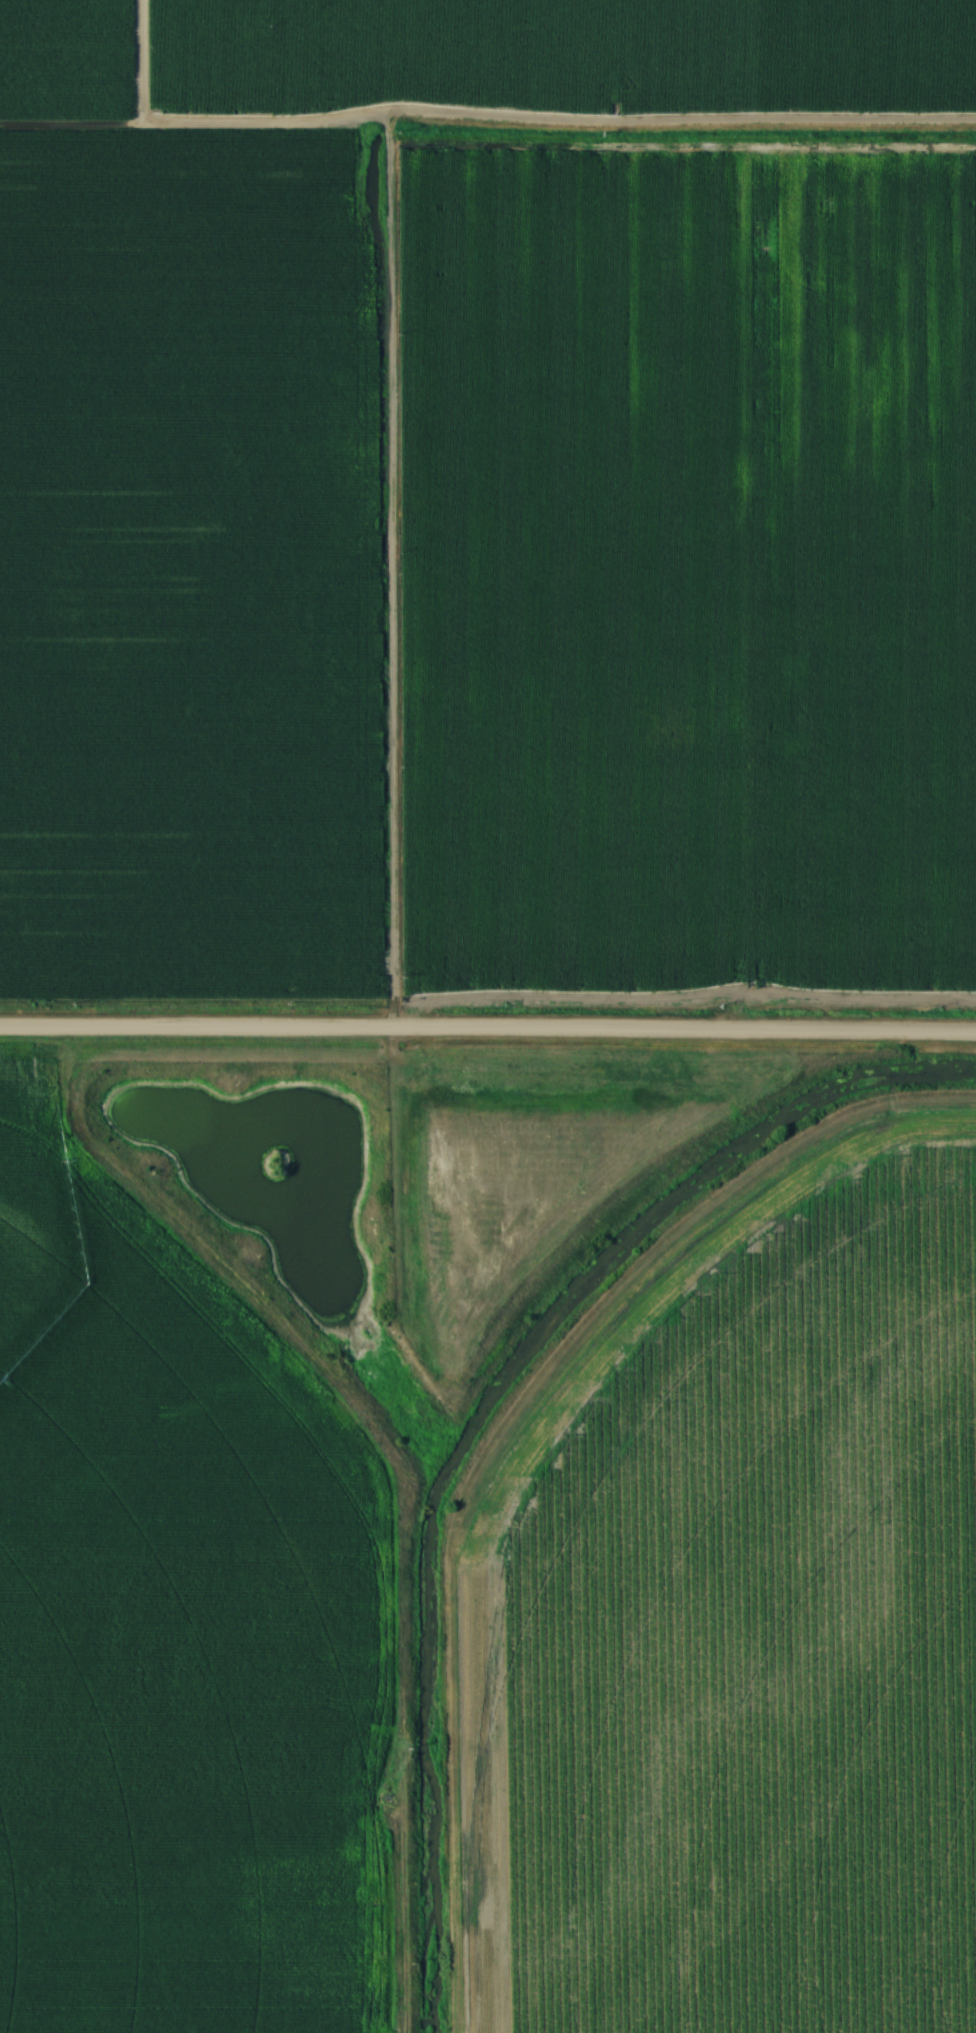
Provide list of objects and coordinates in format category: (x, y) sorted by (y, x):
road: (488, 1033)
building: (427, 1053)

